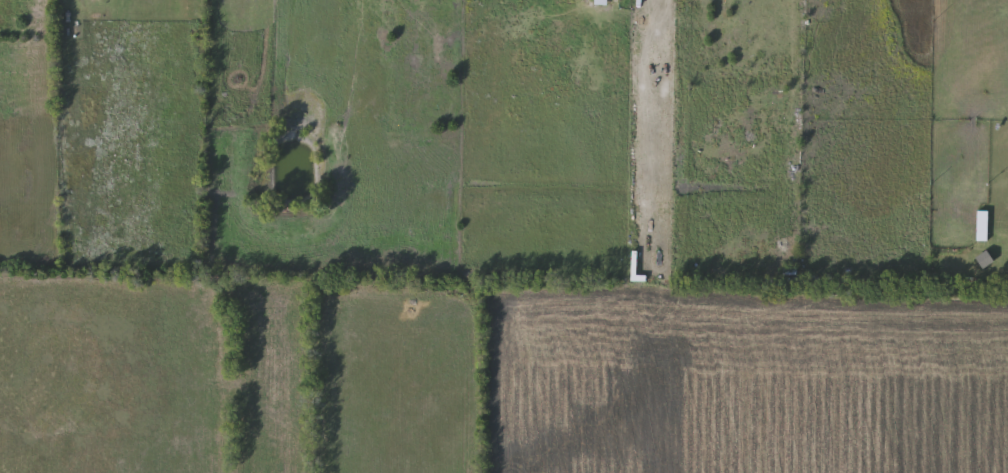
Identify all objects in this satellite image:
building: (94, 0)
building: (600, 3)
building: (980, 229)
crop: (752, 388)

